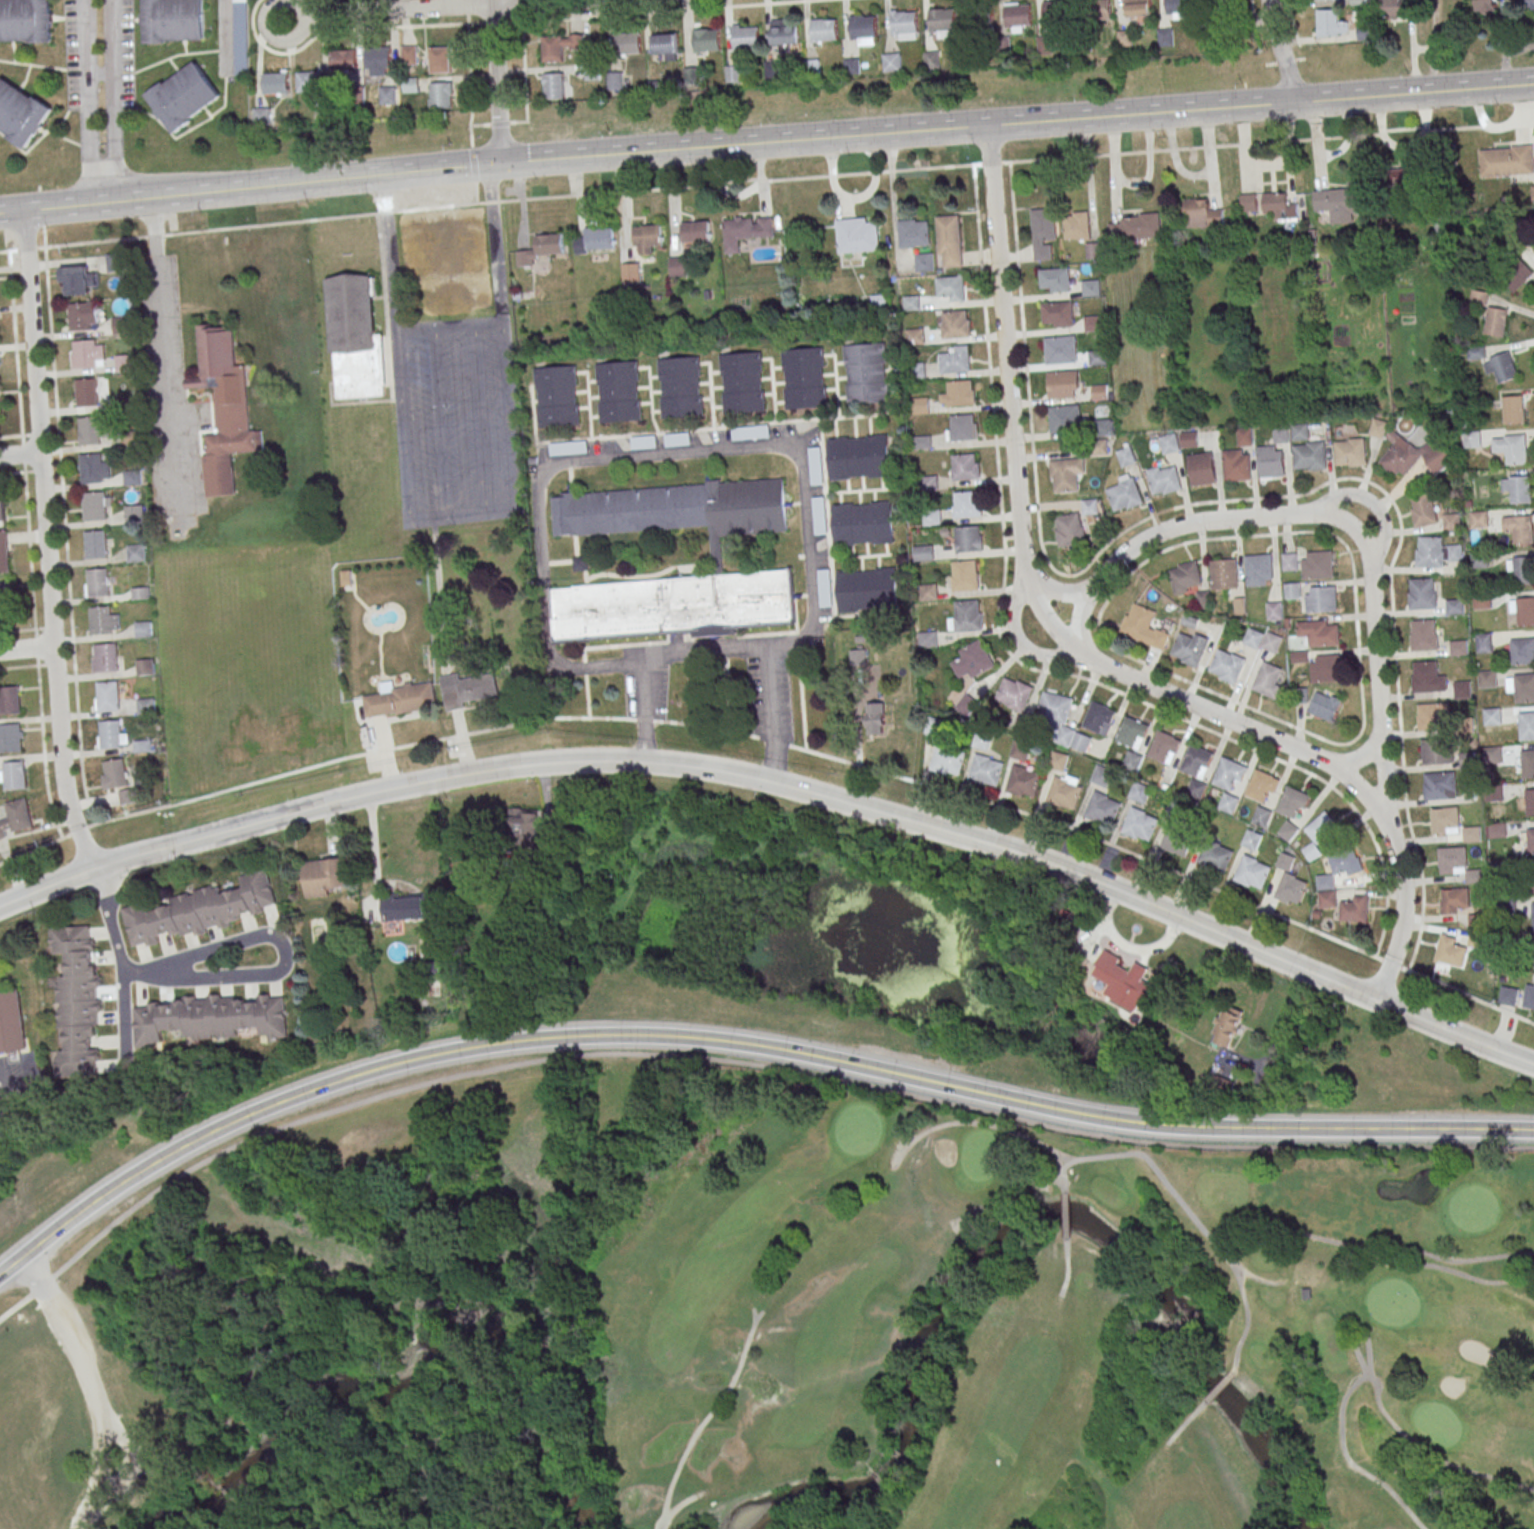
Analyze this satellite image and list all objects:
road: (492, 2)
road: (536, 3)
building: (1527, 4)
building: (1178, 6)
building: (1485, 6)
building: (1138, 8)
building: (1393, 8)
building: (1096, 10)
road: (388, 12)
road: (647, 13)
building: (1056, 13)
building: (979, 17)
building: (1018, 17)
building: (26, 20)
building: (172, 20)
building: (941, 20)
building: (903, 23)
building: (1330, 23)
building: (862, 28)
building: (823, 31)
building: (783, 33)
building: (240, 37)
building: (1166, 37)
building: (745, 38)
building: (1124, 38)
building: (705, 40)
road: (1503, 41)
building: (627, 43)
building: (666, 45)
building: (1044, 45)
building: (559, 46)
road: (1281, 52)
building: (408, 54)
building: (439, 59)
building: (343, 60)
building: (931, 60)
building: (378, 61)
building: (892, 62)
building: (851, 66)
road: (1504, 69)
building: (773, 70)
building: (733, 74)
building: (309, 81)
building: (614, 81)
building: (275, 83)
road: (496, 83)
building: (410, 85)
building: (554, 86)
building: (387, 95)
building: (440, 95)
building: (183, 97)
road: (113, 100)
road: (83, 102)
building: (20, 114)
building: (261, 115)
road: (766, 142)
building: (1506, 162)
traffic signals: (499, 163)
building: (1401, 180)
road: (768, 182)
building: (1532, 193)
building: (1249, 202)
building: (1341, 202)
building: (1280, 206)
building: (1201, 215)
building: (1077, 225)
building: (1135, 229)
building: (746, 231)
building: (695, 232)
building: (914, 233)
building: (1044, 233)
building: (857, 235)
building: (646, 238)
building: (596, 240)
building: (1513, 240)
building: (949, 241)
road: (494, 243)
building: (541, 249)
building: (1093, 250)
road: (388, 252)
building: (113, 262)
building: (924, 262)
building: (678, 266)
building: (630, 272)
building: (1516, 275)
building: (77, 281)
building: (1055, 281)
building: (1090, 289)
building: (950, 290)
building: (1479, 297)
building: (1057, 315)
building: (81, 316)
building: (1496, 321)
building: (1092, 324)
building: (120, 326)
road: (448, 326)
building: (955, 326)
building: (915, 336)
building: (355, 338)
road: (162, 345)
building: (1060, 351)
building: (1476, 352)
building: (85, 355)
building: (1097, 359)
building: (955, 361)
building: (122, 364)
building: (1501, 366)
building: (865, 376)
building: (804, 380)
building: (742, 384)
building: (1063, 386)
building: (680, 388)
building: (85, 393)
building: (618, 393)
building: (1100, 394)
building: (960, 395)
building: (556, 398)
building: (223, 408)
building: (1514, 410)
road: (509, 413)
building: (1064, 420)
road: (400, 423)
building: (1102, 428)
building: (963, 430)
building: (91, 431)
building: (750, 432)
building: (1299, 433)
building: (1280, 435)
road: (10, 437)
building: (1244, 438)
building: (677, 439)
building: (129, 440)
building: (1471, 440)
building: (1189, 441)
building: (641, 442)
building: (1098, 448)
building: (1511, 449)
road: (651, 453)
building: (1350, 453)
road: (19, 454)
building: (1126, 456)
building: (1309, 457)
building: (1416, 457)
building: (859, 458)
building: (1270, 463)
building: (816, 465)
building: (1235, 467)
building: (965, 469)
building: (93, 470)
building: (1201, 470)
road: (11, 474)
building: (1066, 474)
building: (132, 479)
building: (1164, 479)
building: (1520, 491)
building: (1124, 493)
road: (1373, 501)
building: (94, 507)
building: (967, 507)
building: (1090, 507)
building: (1423, 510)
building: (1, 511)
building: (675, 511)
building: (133, 514)
building: (819, 516)
road: (464, 517)
building: (932, 518)
building: (1479, 520)
building: (1451, 523)
building: (863, 525)
building: (1069, 529)
building: (1523, 531)
road: (64, 537)
building: (967, 541)
road: (45, 542)
building: (95, 545)
road: (28, 547)
building: (923, 552)
building: (3, 553)
building: (135, 554)
building: (1430, 554)
building: (1479, 560)
building: (581, 564)
building: (1289, 564)
building: (1317, 567)
building: (1259, 569)
building: (1523, 571)
building: (1224, 574)
building: (965, 577)
building: (1185, 577)
building: (97, 583)
road: (1028, 585)
building: (825, 588)
road: (1056, 589)
building: (867, 591)
building: (1292, 592)
building: (1422, 595)
building: (6, 597)
building: (1203, 599)
building: (1321, 599)
building: (1481, 600)
building: (1239, 608)
building: (1454, 608)
building: (1274, 613)
building: (1525, 613)
building: (968, 618)
road: (1372, 621)
building: (103, 622)
road: (1079, 623)
building: (1146, 627)
building: (142, 630)
road: (17, 631)
building: (1318, 634)
building: (1424, 637)
building: (1254, 640)
building: (1271, 643)
building: (1484, 643)
road: (1022, 645)
road: (26, 648)
road: (706, 648)
building: (1458, 649)
building: (1189, 650)
building: (1522, 653)
building: (106, 659)
building: (972, 661)
building: (1227, 667)
road: (18, 668)
building: (145, 668)
road: (1027, 668)
building: (1325, 668)
building: (1425, 679)
building: (1487, 680)
building: (1267, 682)
building: (1524, 689)
building: (467, 691)
building: (1462, 691)
building: (1014, 693)
building: (107, 697)
building: (9, 702)
building: (401, 702)
building: (966, 704)
building: (1324, 706)
building: (145, 707)
building: (1054, 707)
building: (1433, 716)
building: (876, 718)
building: (1492, 718)
building: (1097, 719)
building: (1464, 727)
building: (1526, 727)
building: (1131, 734)
building: (109, 735)
building: (1064, 737)
building: (9, 739)
building: (982, 741)
building: (1080, 743)
road: (781, 745)
building: (142, 747)
building: (1163, 748)
building: (1437, 751)
building: (1020, 752)
building: (1492, 756)
building: (947, 761)
building: (1195, 761)
building: (1467, 761)
building: (1057, 763)
building: (1131, 763)
building: (1528, 765)
building: (985, 772)
building: (13, 775)
building: (115, 775)
building: (1228, 775)
building: (1101, 777)
building: (1469, 779)
road: (781, 783)
building: (1023, 783)
building: (1261, 787)
building: (1439, 787)
building: (1195, 791)
building: (1063, 794)
building: (1139, 794)
building: (1493, 794)
building: (1530, 802)
building: (1292, 804)
building: (1228, 805)
building: (1176, 809)
building: (1101, 810)
building: (16, 818)
building: (1260, 818)
building: (1445, 820)
building: (524, 825)
building: (1139, 826)
building: (1497, 832)
building: (1288, 833)
building: (1318, 834)
building: (1470, 835)
building: (1530, 840)
building: (1176, 842)
building: (1250, 842)
building: (1214, 858)
building: (1451, 860)
building: (1285, 862)
building: (1499, 870)
building: (1252, 874)
building: (326, 877)
building: (1474, 878)
building: (1325, 883)
building: (1290, 891)
building: (1454, 901)
building: (403, 907)
building: (1507, 907)
building: (201, 909)
building: (1354, 909)
building: (1533, 915)
building: (1477, 923)
road: (1129, 946)
building: (1451, 950)
road: (124, 969)
road: (279, 971)
building: (1123, 983)
building: (1508, 995)
building: (1529, 996)
building: (78, 1000)
building: (209, 1018)
building: (12, 1023)
building: (1227, 1027)
road: (755, 1046)
road: (735, 1062)
road: (6, 1078)
building: (1222, 1087)
park: (595, 1152)
river: (1016, 1226)
road: (11, 1262)
park: (1055, 1336)
river: (409, 1345)
park: (87, 1386)
road: (90, 1386)
road: (133, 1465)
parking lot: (84, 1524)

